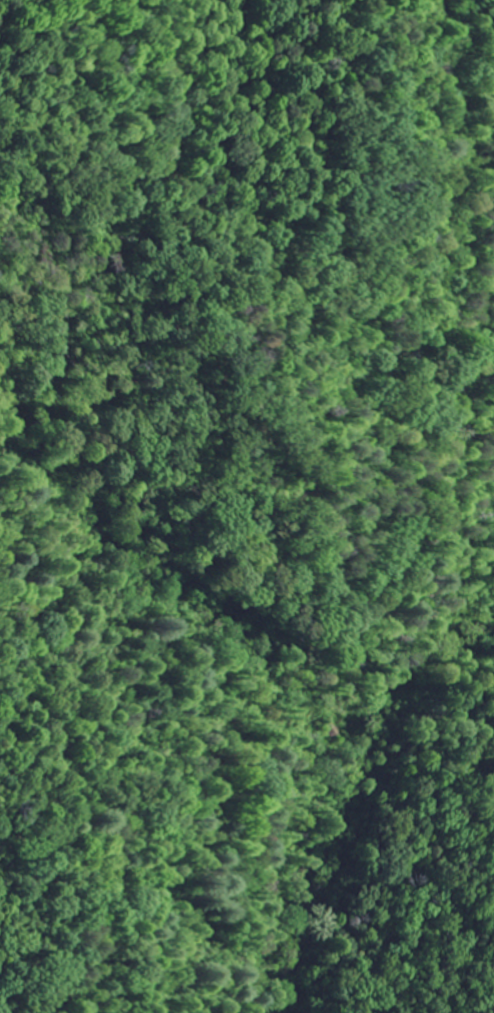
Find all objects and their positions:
road: (435, 632)

